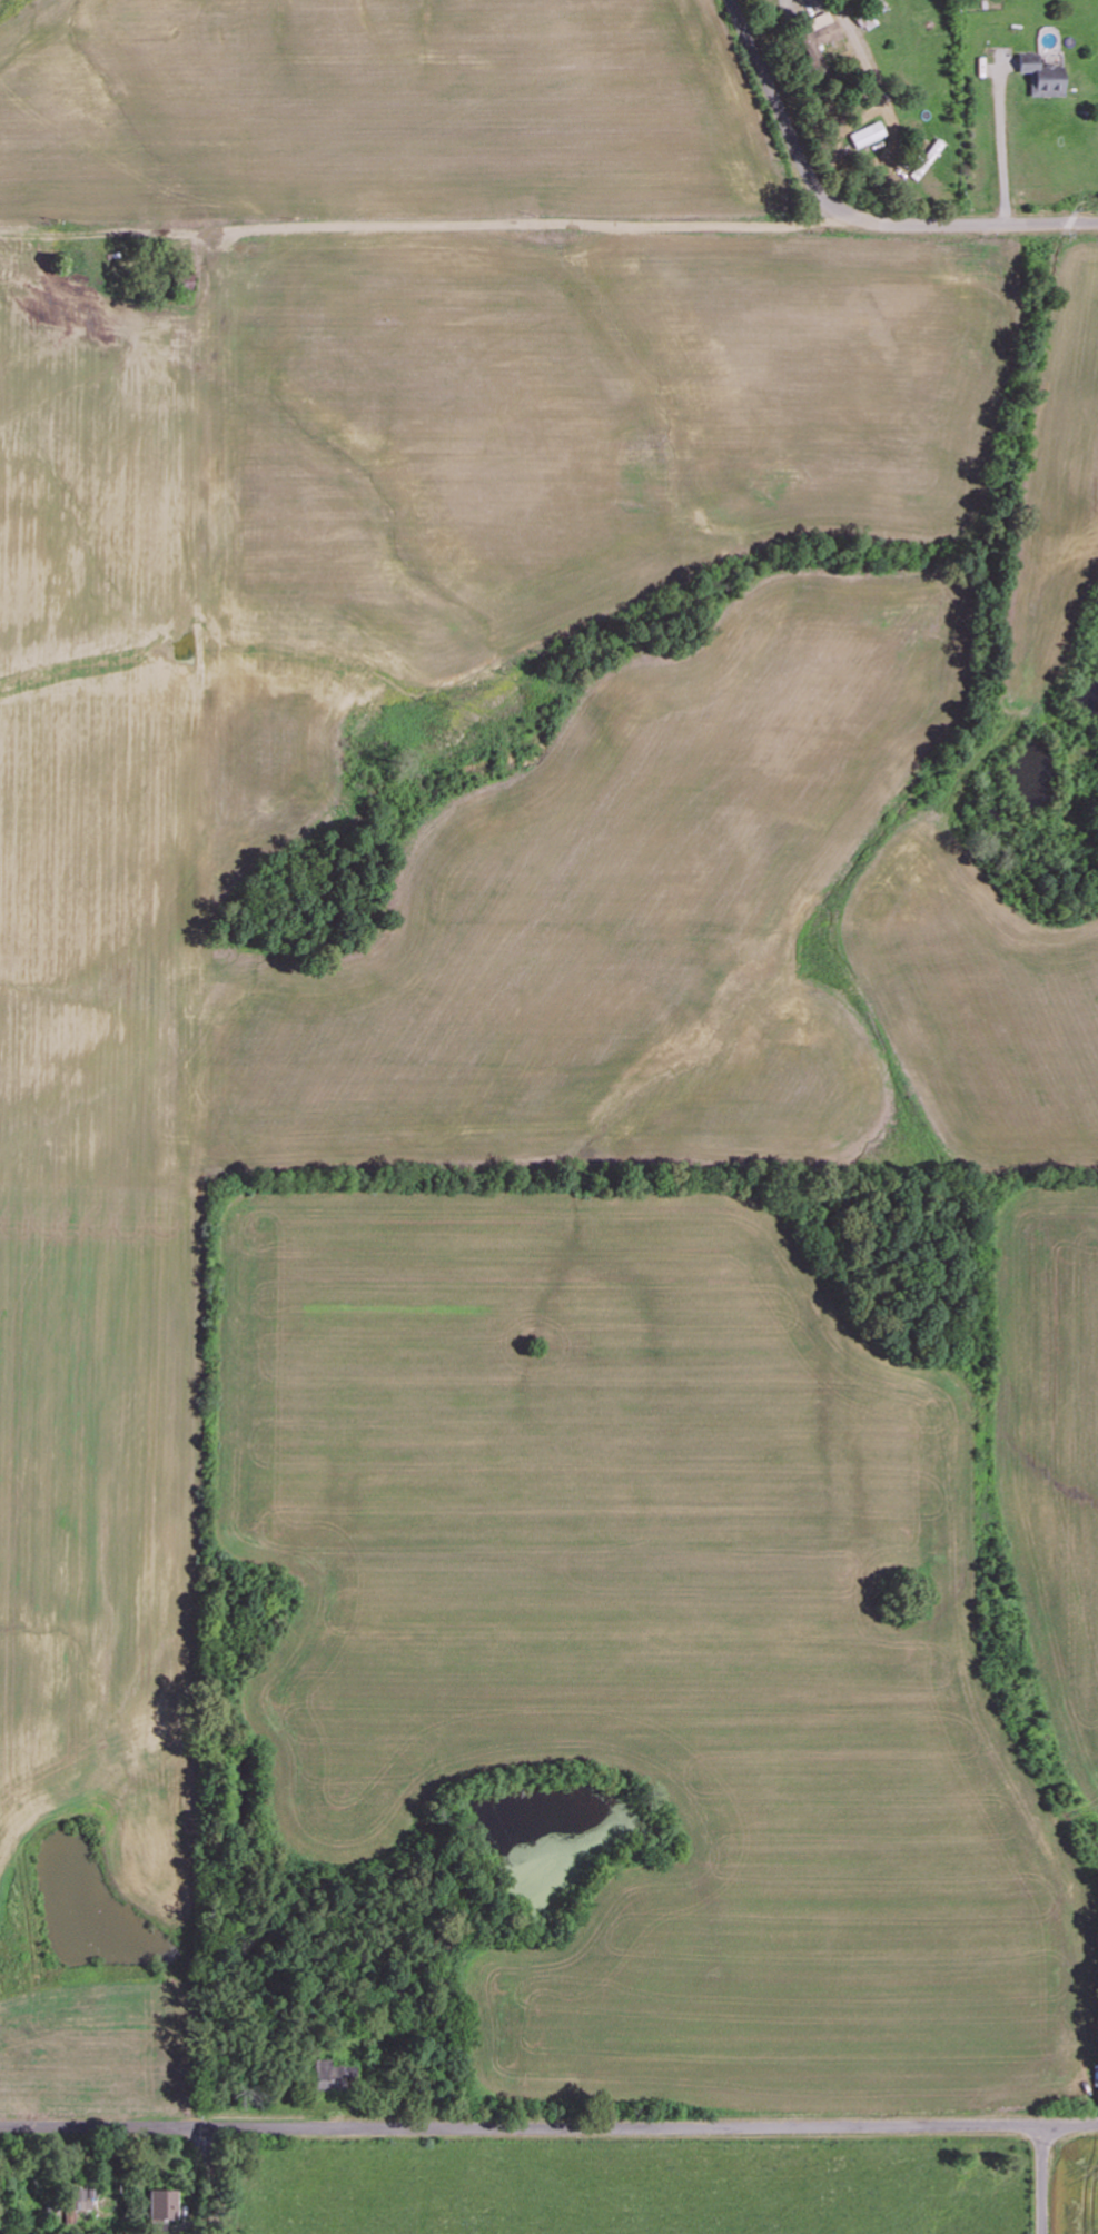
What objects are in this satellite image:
building: (818, 28)
building: (1045, 79)
building: (864, 135)
road: (847, 215)
building: (320, 2069)
road: (548, 2132)
road: (1046, 2179)
building: (76, 2198)
building: (157, 2202)

